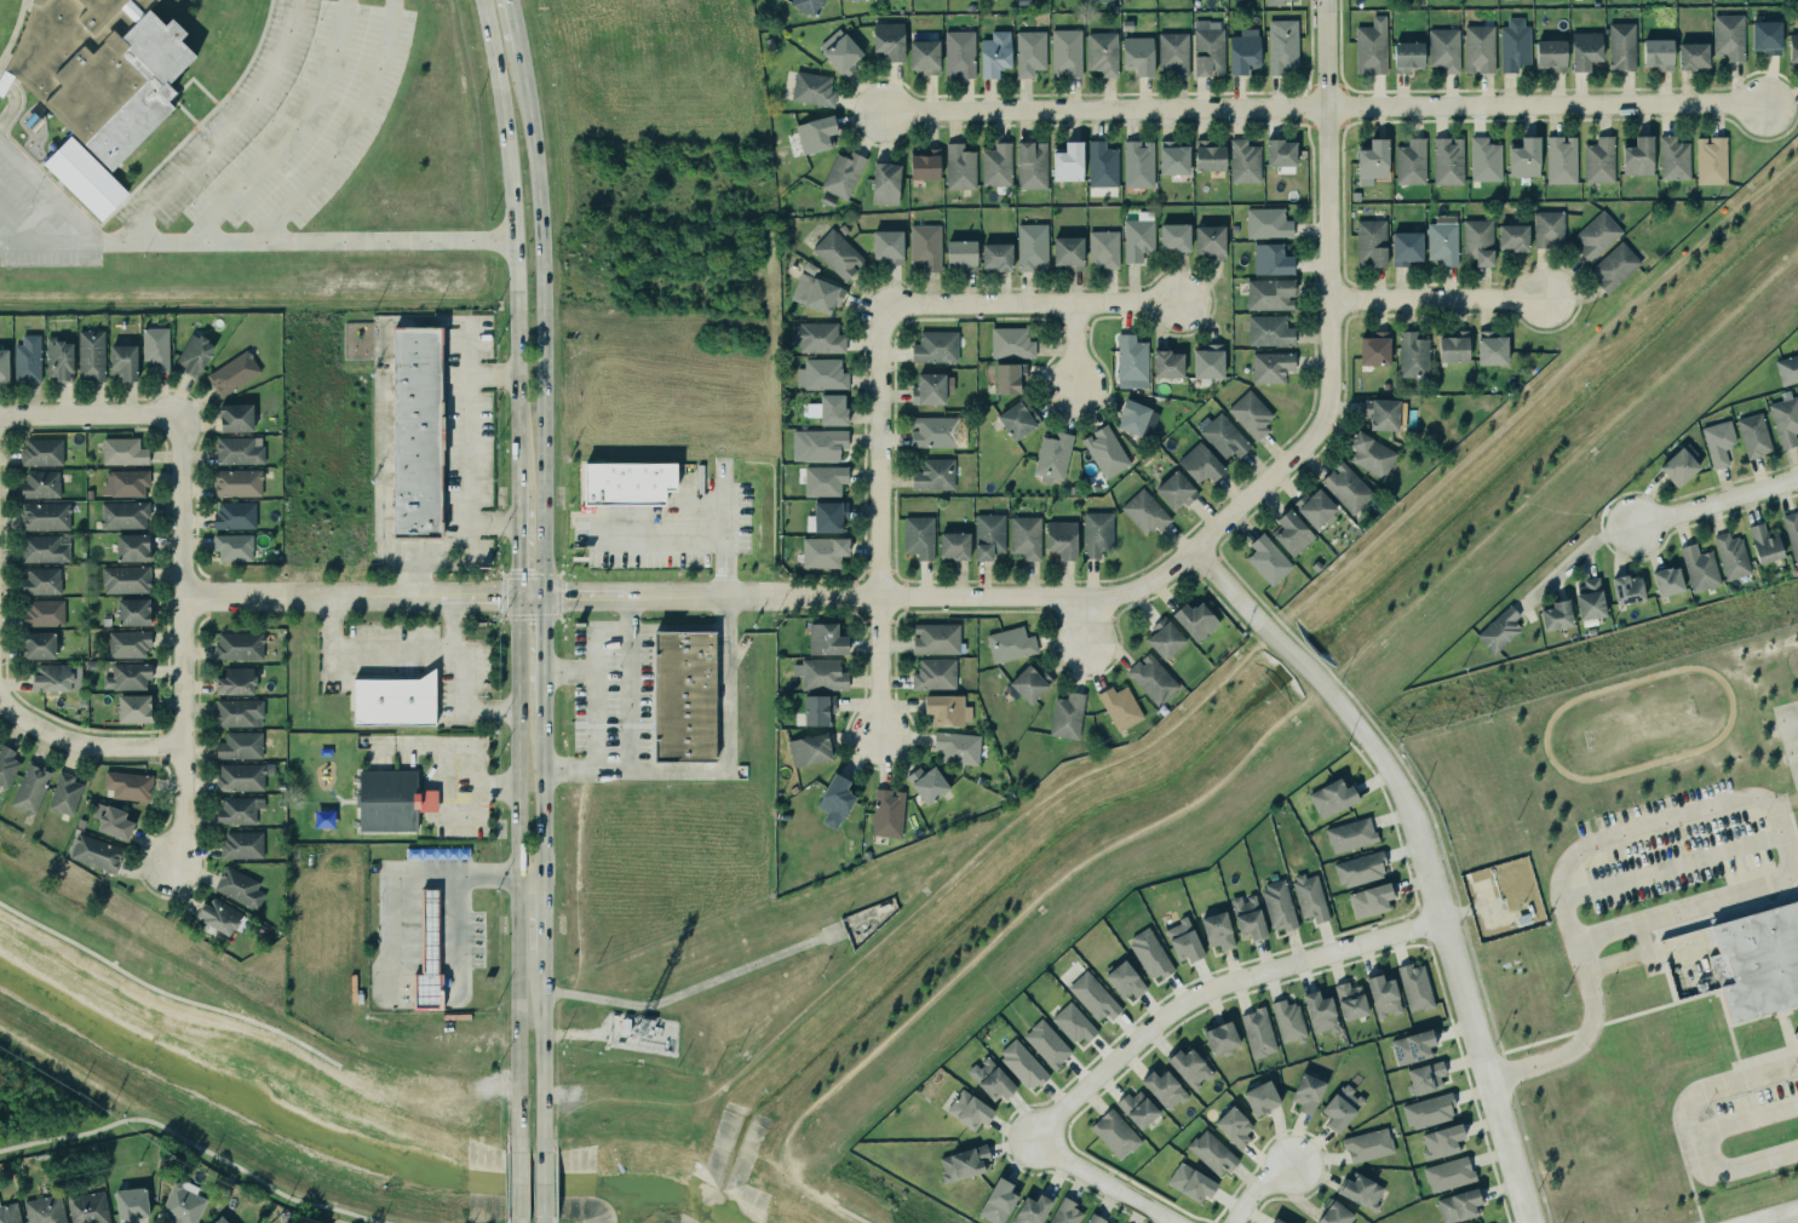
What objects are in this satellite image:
building: (1096, 0)
building: (1282, 0)
building: (808, 5)
road: (516, 23)
building: (1729, 36)
building: (1765, 36)
building: (886, 41)
building: (1620, 45)
building: (1239, 46)
building: (1282, 46)
building: (1371, 46)
building: (1512, 46)
building: (1792, 47)
building: (920, 48)
building: (957, 48)
building: (1099, 48)
building: (1477, 48)
building: (1444, 50)
building: (1585, 50)
building: (1206, 51)
building: (1028, 52)
building: (1064, 52)
building: (1172, 52)
building: (993, 53)
building: (1658, 53)
building: (840, 54)
building: (1138, 54)
building: (1551, 54)
building: (1407, 56)
building: (1691, 56)
building: (97, 70)
building: (809, 84)
road: (11, 102)
road: (1323, 109)
road: (289, 132)
road: (346, 132)
building: (816, 134)
building: (1280, 153)
building: (1523, 153)
building: (1636, 154)
building: (1207, 156)
building: (1558, 156)
building: (1173, 157)
building: (1482, 157)
building: (1371, 159)
building: (1673, 159)
building: (1710, 159)
building: (1599, 160)
building: (1243, 161)
building: (1447, 161)
building: (1068, 162)
building: (1411, 162)
building: (923, 163)
building: (1138, 163)
building: (994, 165)
building: (1102, 165)
building: (1029, 166)
building: (959, 167)
road: (183, 173)
building: (843, 174)
building: (84, 176)
building: (885, 183)
road: (50, 195)
road: (1326, 200)
building: (1268, 223)
road: (17, 228)
building: (1549, 229)
building: (1511, 235)
building: (1597, 235)
building: (1174, 236)
road: (513, 239)
building: (1136, 239)
road: (314, 241)
building: (1208, 241)
building: (1441, 241)
building: (1478, 241)
building: (1371, 242)
building: (887, 246)
building: (924, 246)
building: (1403, 246)
building: (1032, 247)
building: (1102, 248)
building: (835, 251)
building: (1065, 253)
building: (960, 255)
building: (995, 257)
building: (1271, 259)
building: (1613, 264)
building: (816, 293)
building: (1268, 293)
road: (1436, 299)
road: (1028, 304)
road: (545, 321)
building: (1269, 331)
building: (815, 337)
building: (1010, 338)
road: (1074, 346)
building: (156, 348)
building: (935, 348)
building: (1374, 349)
building: (1490, 349)
building: (193, 352)
building: (91, 355)
building: (1412, 355)
building: (27, 358)
building: (1131, 358)
building: (59, 360)
building: (123, 362)
building: (1206, 362)
building: (1165, 364)
building: (4, 366)
building: (1786, 366)
building: (1271, 367)
building: (1004, 372)
building: (232, 373)
building: (821, 374)
road: (493, 377)
road: (1538, 387)
building: (931, 389)
building: (828, 409)
building: (1379, 410)
building: (1251, 414)
road: (88, 418)
building: (235, 418)
building: (1131, 418)
building: (1785, 420)
building: (1016, 421)
building: (412, 425)
building: (934, 430)
building: (1223, 436)
building: (1753, 436)
building: (1717, 440)
building: (820, 443)
building: (119, 446)
building: (239, 450)
building: (1103, 450)
building: (41, 452)
building: (1372, 454)
building: (1052, 457)
road: (1564, 461)
building: (1197, 464)
building: (1679, 465)
building: (931, 475)
building: (626, 480)
building: (825, 481)
building: (123, 482)
building: (39, 483)
building: (237, 483)
building: (1344, 486)
building: (1174, 490)
road: (1714, 499)
road: (518, 501)
building: (1315, 507)
building: (231, 512)
building: (1144, 512)
building: (42, 513)
building: (123, 515)
building: (827, 517)
road: (878, 521)
road: (492, 524)
road: (665, 527)
road: (725, 530)
building: (1791, 532)
building: (1292, 533)
building: (1097, 534)
building: (988, 535)
building: (919, 536)
building: (1024, 536)
building: (1059, 540)
building: (1764, 544)
building: (131, 545)
building: (954, 546)
building: (234, 547)
building: (44, 549)
building: (823, 552)
road: (1217, 556)
building: (1731, 556)
road: (1576, 558)
building: (1268, 559)
road: (466, 561)
road: (518, 561)
traffic signals: (518, 565)
building: (1698, 565)
road: (1197, 574)
building: (38, 579)
building: (126, 579)
road: (414, 579)
building: (1665, 579)
building: (1625, 586)
road: (1247, 588)
road: (1036, 597)
road: (466, 598)
traffic signals: (493, 598)
road: (532, 598)
traffic signals: (562, 598)
road: (603, 598)
road: (297, 599)
building: (1589, 599)
road: (1223, 604)
building: (133, 611)
building: (42, 613)
road: (625, 614)
building: (1556, 615)
building: (1193, 618)
road: (1081, 621)
traffic signals: (544, 624)
road: (450, 625)
building: (1498, 627)
road: (609, 630)
road: (544, 633)
building: (1162, 636)
building: (936, 638)
road: (1253, 638)
building: (826, 639)
building: (125, 642)
road: (178, 642)
road: (328, 642)
building: (1010, 644)
building: (39, 645)
building: (239, 645)
road: (1305, 648)
road: (432, 653)
road: (569, 672)
building: (932, 672)
building: (820, 674)
building: (57, 677)
building: (127, 677)
building: (234, 679)
building: (1153, 679)
building: (1028, 681)
road: (545, 690)
building: (684, 695)
building: (394, 701)
building: (131, 702)
building: (1118, 705)
building: (815, 707)
building: (943, 708)
road: (6, 710)
road: (490, 710)
building: (239, 712)
road: (1327, 714)
building: (1067, 716)
road: (96, 743)
building: (237, 743)
building: (808, 746)
building: (957, 747)
road: (1360, 756)
building: (5, 760)
road: (719, 769)
building: (239, 776)
building: (926, 779)
road: (1411, 780)
building: (125, 781)
building: (30, 786)
building: (65, 793)
road: (545, 794)
building: (833, 794)
building: (1333, 797)
road: (1199, 798)
building: (381, 800)
road: (1767, 803)
building: (883, 808)
building: (239, 810)
building: (113, 820)
building: (1349, 833)
building: (242, 845)
building: (98, 850)
road: (1423, 852)
road: (1670, 868)
building: (1360, 869)
road: (401, 877)
road: (519, 877)
road: (533, 879)
building: (239, 886)
building: (1310, 897)
building: (1371, 900)
building: (1276, 903)
road: (1487, 905)
road: (917, 908)
building: (219, 915)
road: (546, 915)
road: (1466, 915)
building: (1246, 917)
building: (1217, 930)
road: (455, 936)
building: (1183, 940)
building: (429, 953)
building: (1148, 953)
building: (1756, 959)
building: (1122, 978)
building: (1413, 984)
road: (697, 987)
road: (1214, 988)
building: (1381, 993)
road: (165, 994)
building: (1093, 997)
building: (1350, 1000)
building: (1320, 1012)
building: (1072, 1021)
building: (1288, 1021)
building: (1258, 1033)
building: (1796, 1035)
road: (885, 1037)
building: (1219, 1037)
road: (1580, 1041)
building: (1045, 1043)
building: (1413, 1046)
road: (546, 1053)
building: (1022, 1064)
building: (1188, 1066)
building: (1425, 1078)
building: (990, 1079)
building: (1162, 1086)
building: (1305, 1091)
building: (1259, 1096)
building: (1339, 1106)
building: (965, 1107)
building: (1136, 1107)
building: (1428, 1110)
road: (1684, 1115)
building: (1231, 1124)
building: (1115, 1133)
building: (1440, 1138)
building: (1368, 1144)
road: (197, 1147)
building: (1210, 1150)
building: (961, 1162)
road: (1734, 1171)
building: (1448, 1173)
park: (246, 1175)
road: (1103, 1182)
building: (1190, 1182)
road: (545, 1188)
road: (518, 1189)
road: (1258, 1189)
building: (1362, 1192)
building: (994, 1200)
building: (131, 1204)
building: (180, 1204)
building: (1457, 1204)
building: (87, 1207)
building: (44, 1210)
building: (1030, 1210)
building: (8, 1212)
building: (1067, 1212)
building: (1333, 1213)
road: (849, 1215)
road: (1777, 1217)
building: (1093, 1218)
building: (219, 1219)
building: (1275, 1221)

